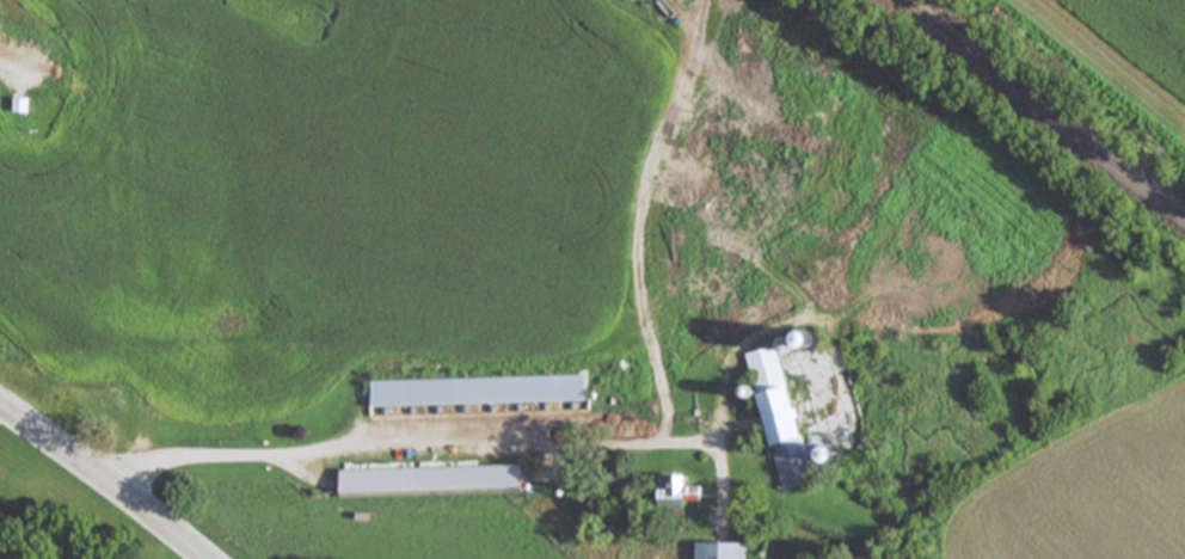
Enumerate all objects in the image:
building: (25, 107)
railway: (1044, 107)
road: (130, 244)
building: (480, 393)
building: (787, 424)
road: (337, 451)
building: (437, 480)
road: (94, 484)
building: (688, 494)
building: (5, 530)
building: (729, 552)

